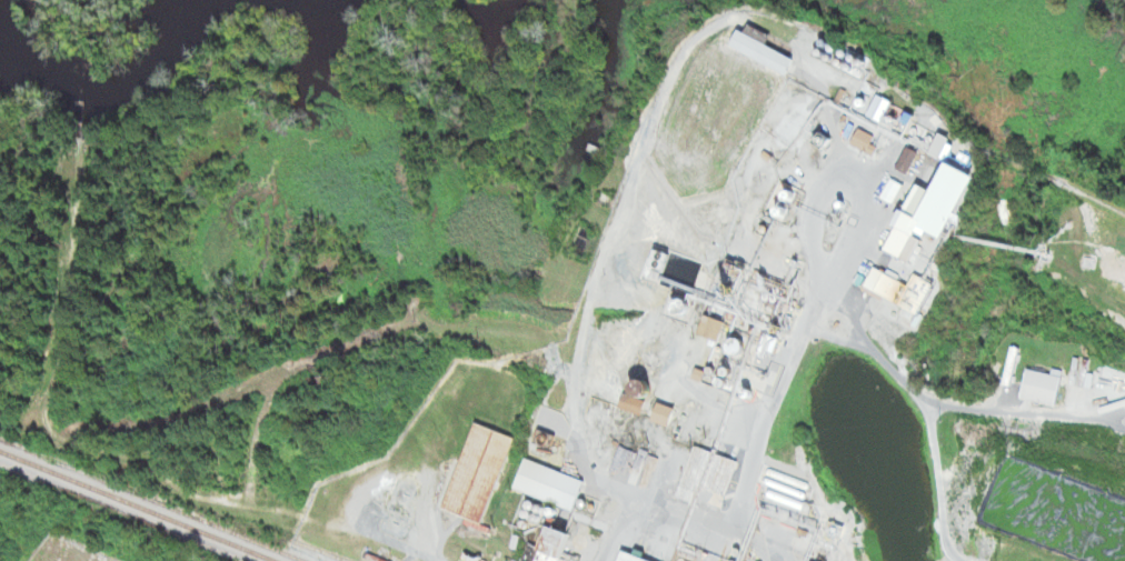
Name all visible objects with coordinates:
building: (760, 49)
building: (859, 138)
building: (920, 208)
building: (878, 280)
building: (709, 327)
building: (629, 402)
building: (660, 412)
building: (476, 472)
building: (691, 472)
building: (546, 483)
railway: (139, 504)
building: (550, 544)
building: (625, 557)

